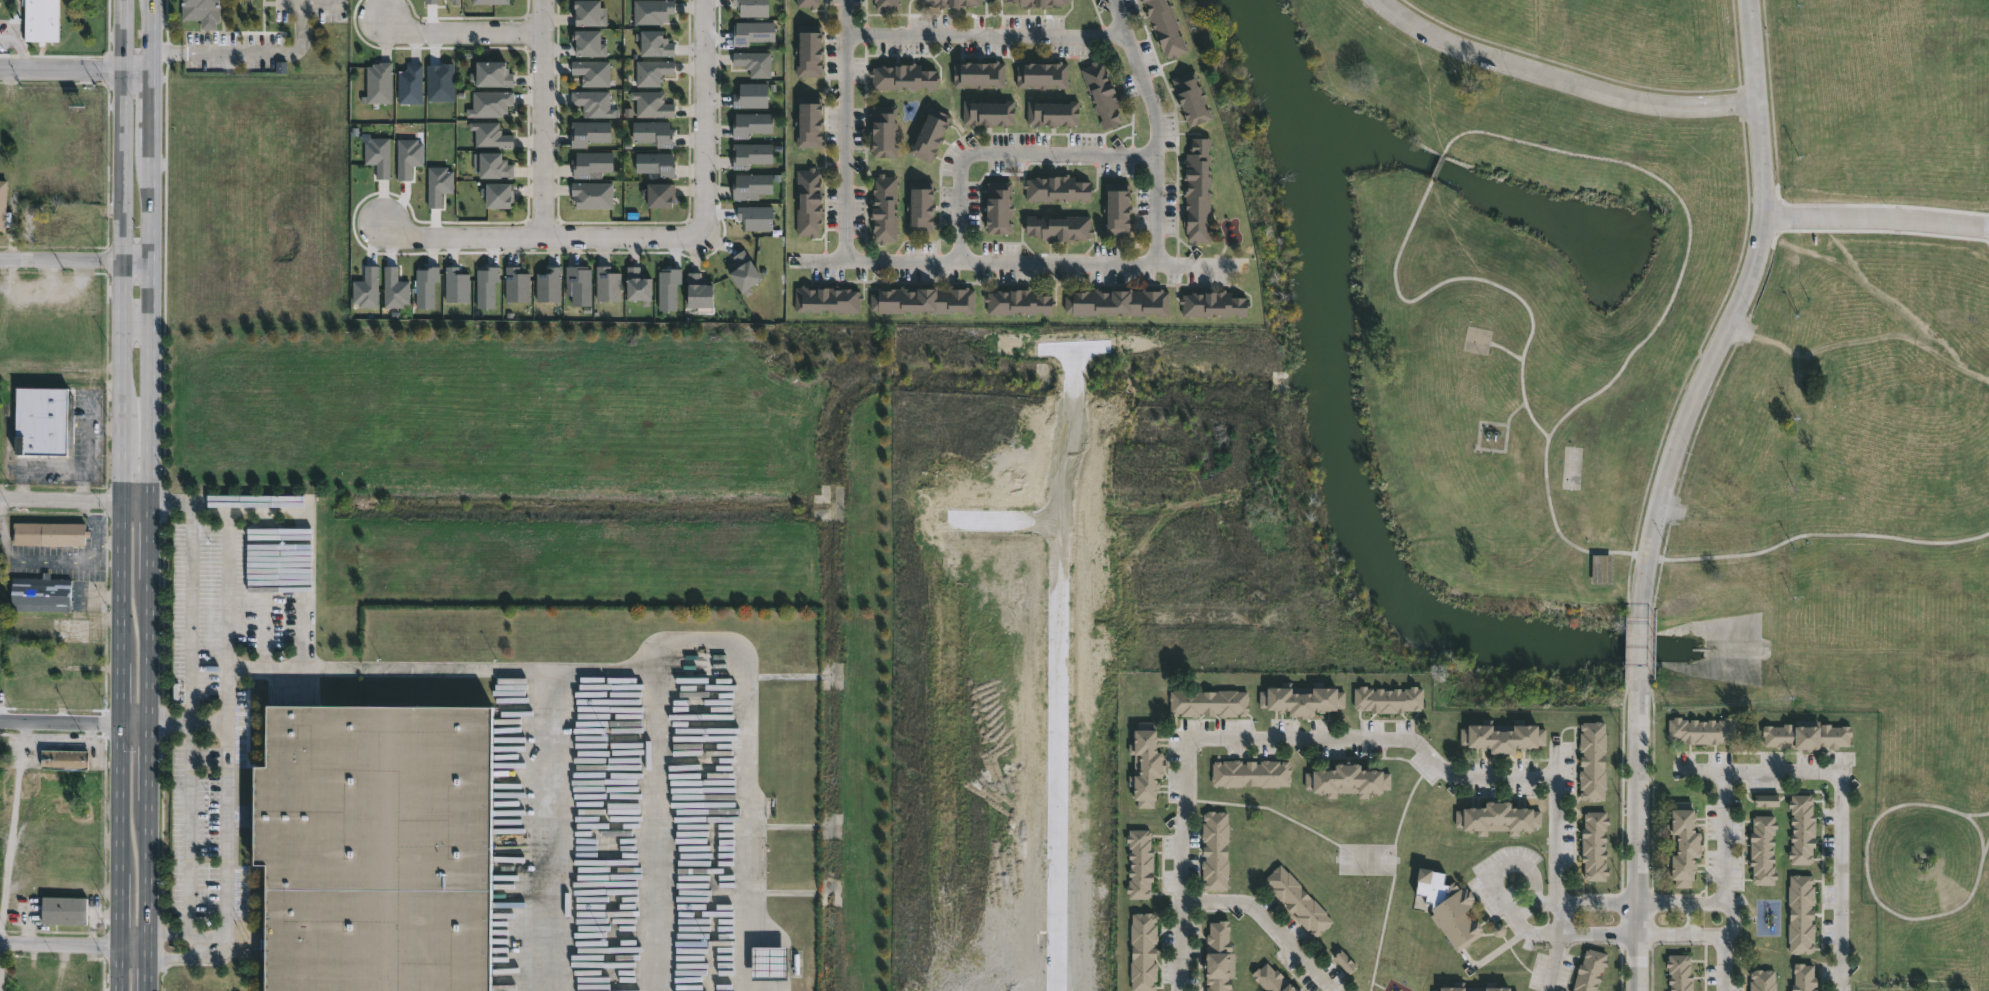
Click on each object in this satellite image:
building: (431, 1)
building: (456, 1)
building: (491, 2)
building: (810, 3)
building: (948, 3)
building: (1040, 3)
building: (884, 5)
building: (753, 7)
road: (302, 8)
building: (203, 11)
building: (652, 11)
building: (589, 12)
road: (845, 16)
building: (43, 20)
building: (1163, 28)
building: (753, 32)
road: (461, 34)
road: (986, 34)
road: (151, 35)
building: (590, 42)
building: (656, 44)
road: (17, 49)
building: (811, 49)
road: (223, 53)
building: (754, 62)
road: (75, 71)
building: (593, 71)
building: (653, 71)
building: (493, 73)
building: (977, 75)
building: (1040, 75)
building: (901, 77)
road: (1561, 80)
building: (441, 81)
building: (379, 83)
building: (411, 84)
building: (753, 95)
building: (1100, 95)
building: (1192, 97)
building: (595, 102)
building: (491, 103)
building: (651, 104)
road: (150, 109)
building: (986, 113)
building: (1050, 113)
building: (0, 114)
road: (545, 117)
road: (704, 117)
building: (811, 120)
building: (753, 124)
building: (591, 132)
building: (882, 132)
building: (655, 133)
building: (930, 133)
building: (491, 135)
road: (845, 147)
road: (1007, 152)
building: (752, 154)
building: (379, 155)
building: (408, 156)
building: (592, 162)
building: (657, 163)
building: (495, 165)
road: (1437, 166)
building: (439, 184)
building: (752, 185)
building: (1054, 189)
building: (1196, 190)
building: (500, 193)
building: (593, 194)
building: (662, 194)
building: (806, 201)
building: (3, 206)
building: (918, 208)
building: (996, 208)
building: (882, 210)
building: (1116, 210)
road: (1687, 212)
building: (756, 216)
road: (1876, 219)
building: (74, 220)
building: (1057, 228)
road: (545, 235)
road: (74, 260)
road: (822, 260)
road: (1135, 263)
road: (1200, 263)
building: (747, 271)
building: (457, 284)
building: (518, 284)
building: (550, 284)
building: (581, 284)
building: (608, 284)
building: (640, 284)
building: (426, 285)
building: (487, 285)
building: (669, 287)
building: (367, 288)
building: (395, 288)
building: (702, 291)
building: (827, 299)
building: (924, 299)
building: (1019, 301)
building: (1120, 302)
building: (1214, 303)
road: (1737, 307)
road: (136, 319)
road: (150, 324)
road: (1507, 350)
park: (1647, 369)
road: (1513, 411)
building: (43, 419)
building: (1492, 443)
road: (1504, 450)
park: (1571, 467)
road: (122, 495)
road: (75, 499)
road: (1549, 501)
building: (50, 533)
road: (150, 541)
road: (1980, 541)
building: (1601, 569)
building: (41, 593)
road: (1640, 647)
road: (148, 652)
building: (1300, 699)
building: (1387, 699)
building: (1207, 702)
road: (73, 722)
road: (190, 724)
road: (169, 725)
road: (227, 726)
building: (1701, 730)
building: (1805, 735)
building: (1501, 736)
road: (75, 743)
road: (1187, 758)
building: (65, 760)
building: (1591, 761)
road: (147, 763)
building: (1144, 764)
road: (1701, 770)
road: (1780, 771)
building: (1249, 773)
building: (1346, 781)
road: (1555, 803)
road: (1267, 807)
road: (1975, 814)
building: (1496, 818)
building: (1801, 829)
road: (20, 832)
road: (1639, 841)
building: (1683, 844)
building: (1593, 846)
building: (376, 847)
building: (1762, 849)
building: (1214, 851)
road: (1985, 853)
park: (1365, 859)
building: (1138, 864)
road: (1394, 871)
road: (148, 874)
road: (1491, 875)
building: (1296, 901)
road: (1640, 903)
building: (1447, 907)
building: (64, 909)
building: (1800, 913)
road: (1930, 916)
road: (1267, 921)
road: (1597, 933)
road: (1681, 935)
road: (74, 945)
building: (1142, 952)
road: (1491, 954)
road: (1513, 954)
building: (1217, 957)
building: (1345, 962)
building: (770, 964)
road: (1, 967)
road: (148, 969)
building: (1588, 971)
building: (1679, 973)
building: (1803, 977)
building: (1269, 979)
building: (1761, 981)
road: (1378, 985)
building: (1472, 987)
building: (1295, 990)

